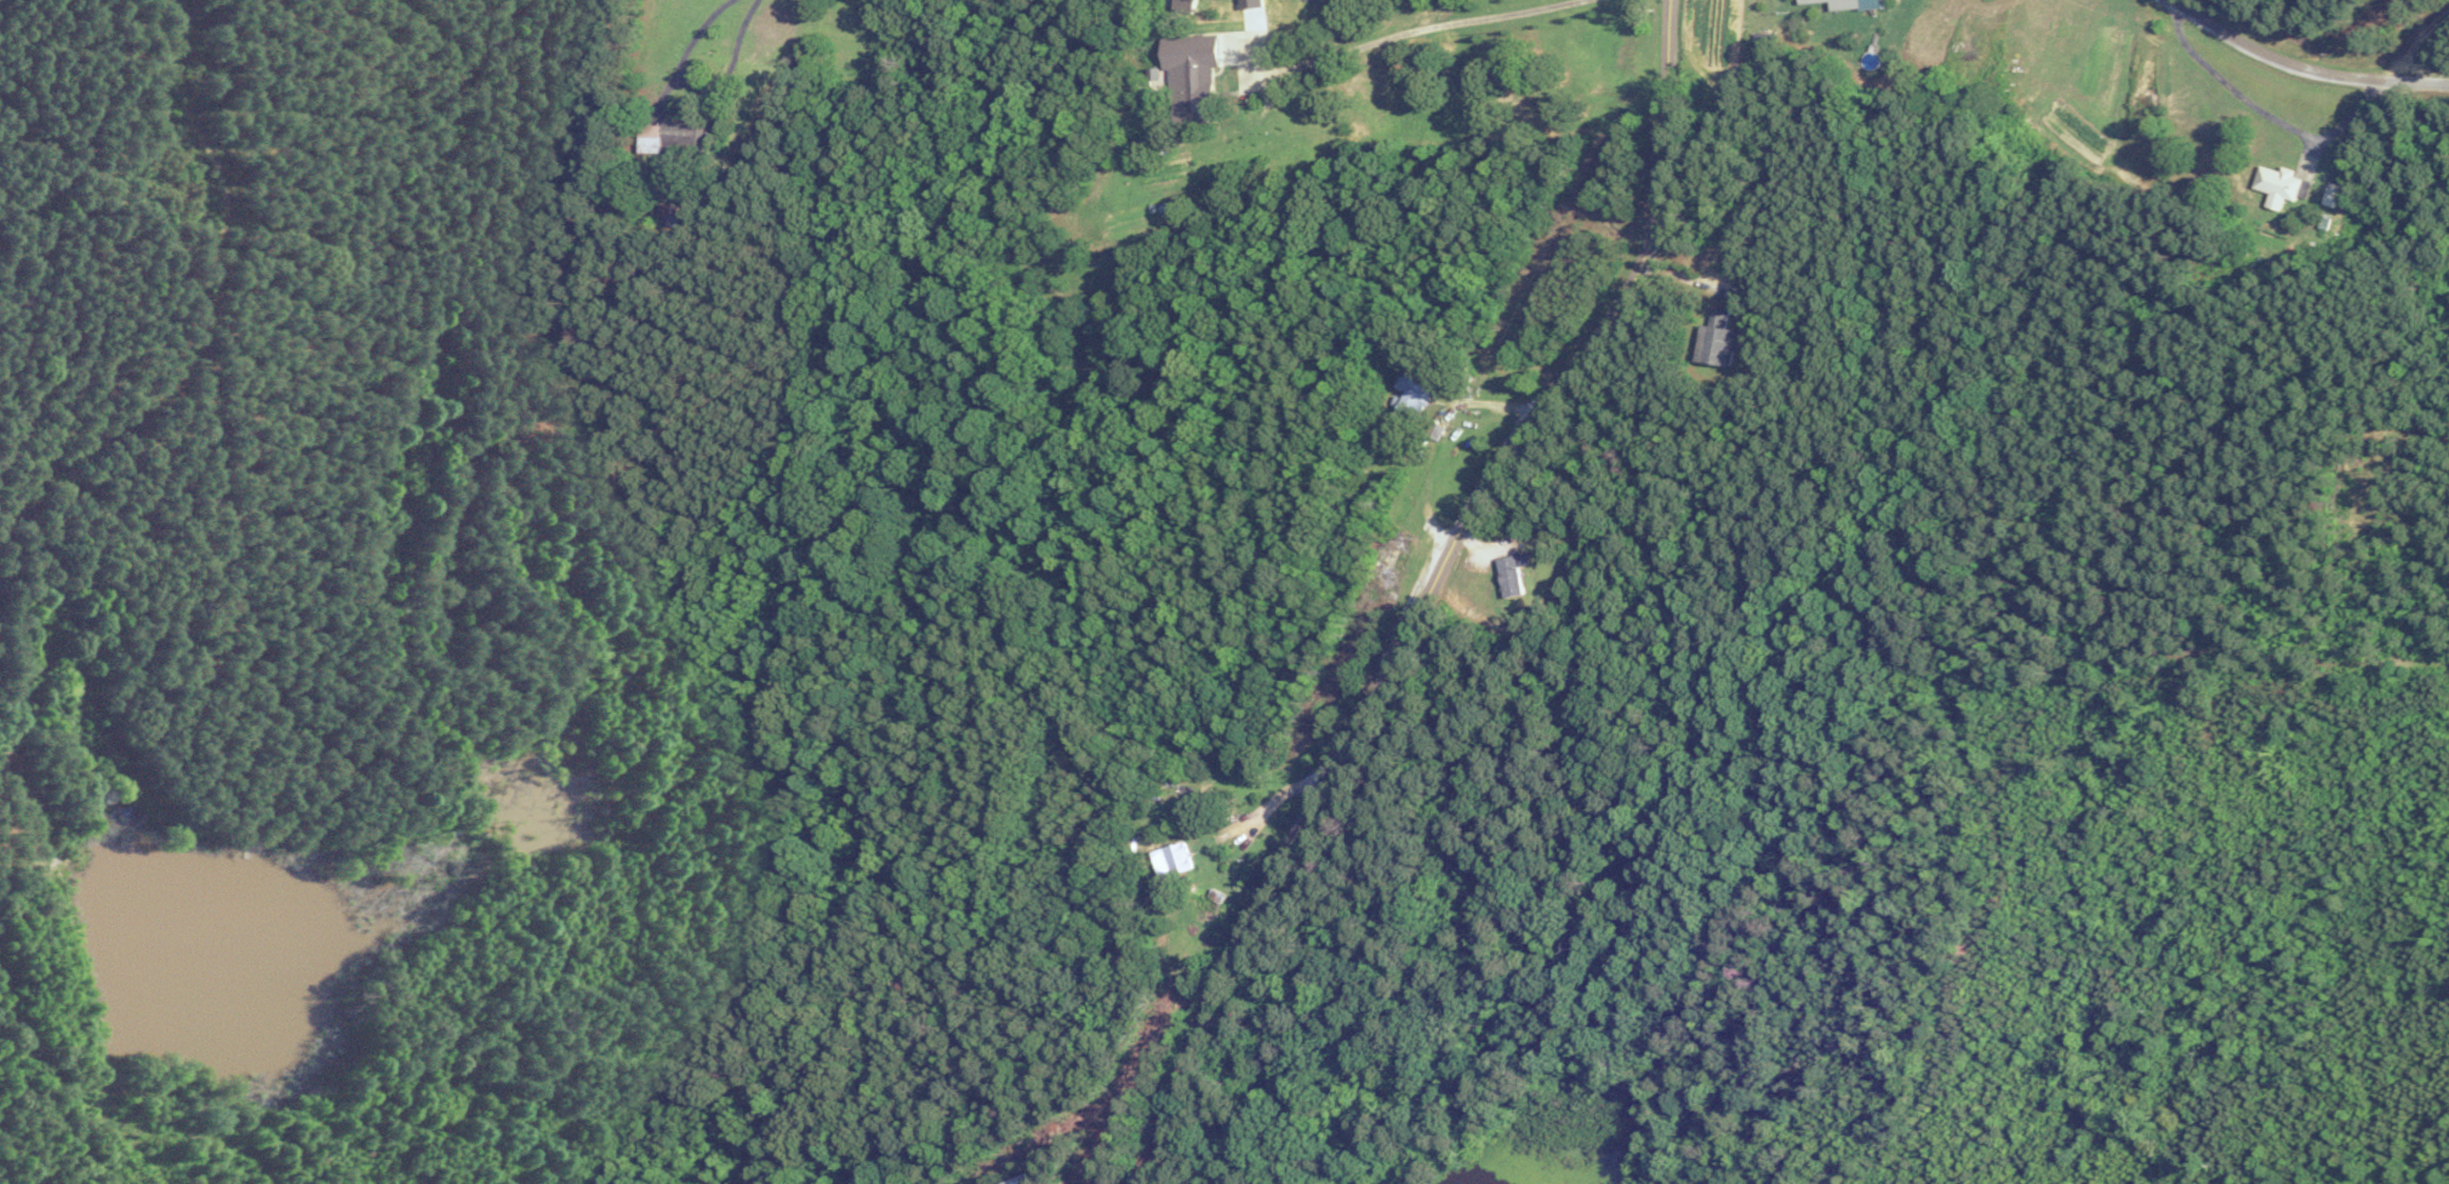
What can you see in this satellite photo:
building: (1836, 2)
building: (1183, 5)
road: (1415, 30)
road: (2415, 44)
road: (678, 55)
road: (724, 62)
road: (2296, 67)
building: (1192, 90)
road: (2264, 118)
building: (672, 138)
building: (2280, 185)
building: (1716, 341)
building: (1410, 395)
building: (1383, 557)
road: (1421, 590)
building: (1166, 778)
road: (1262, 808)
building: (1170, 858)
building: (1017, 1180)

